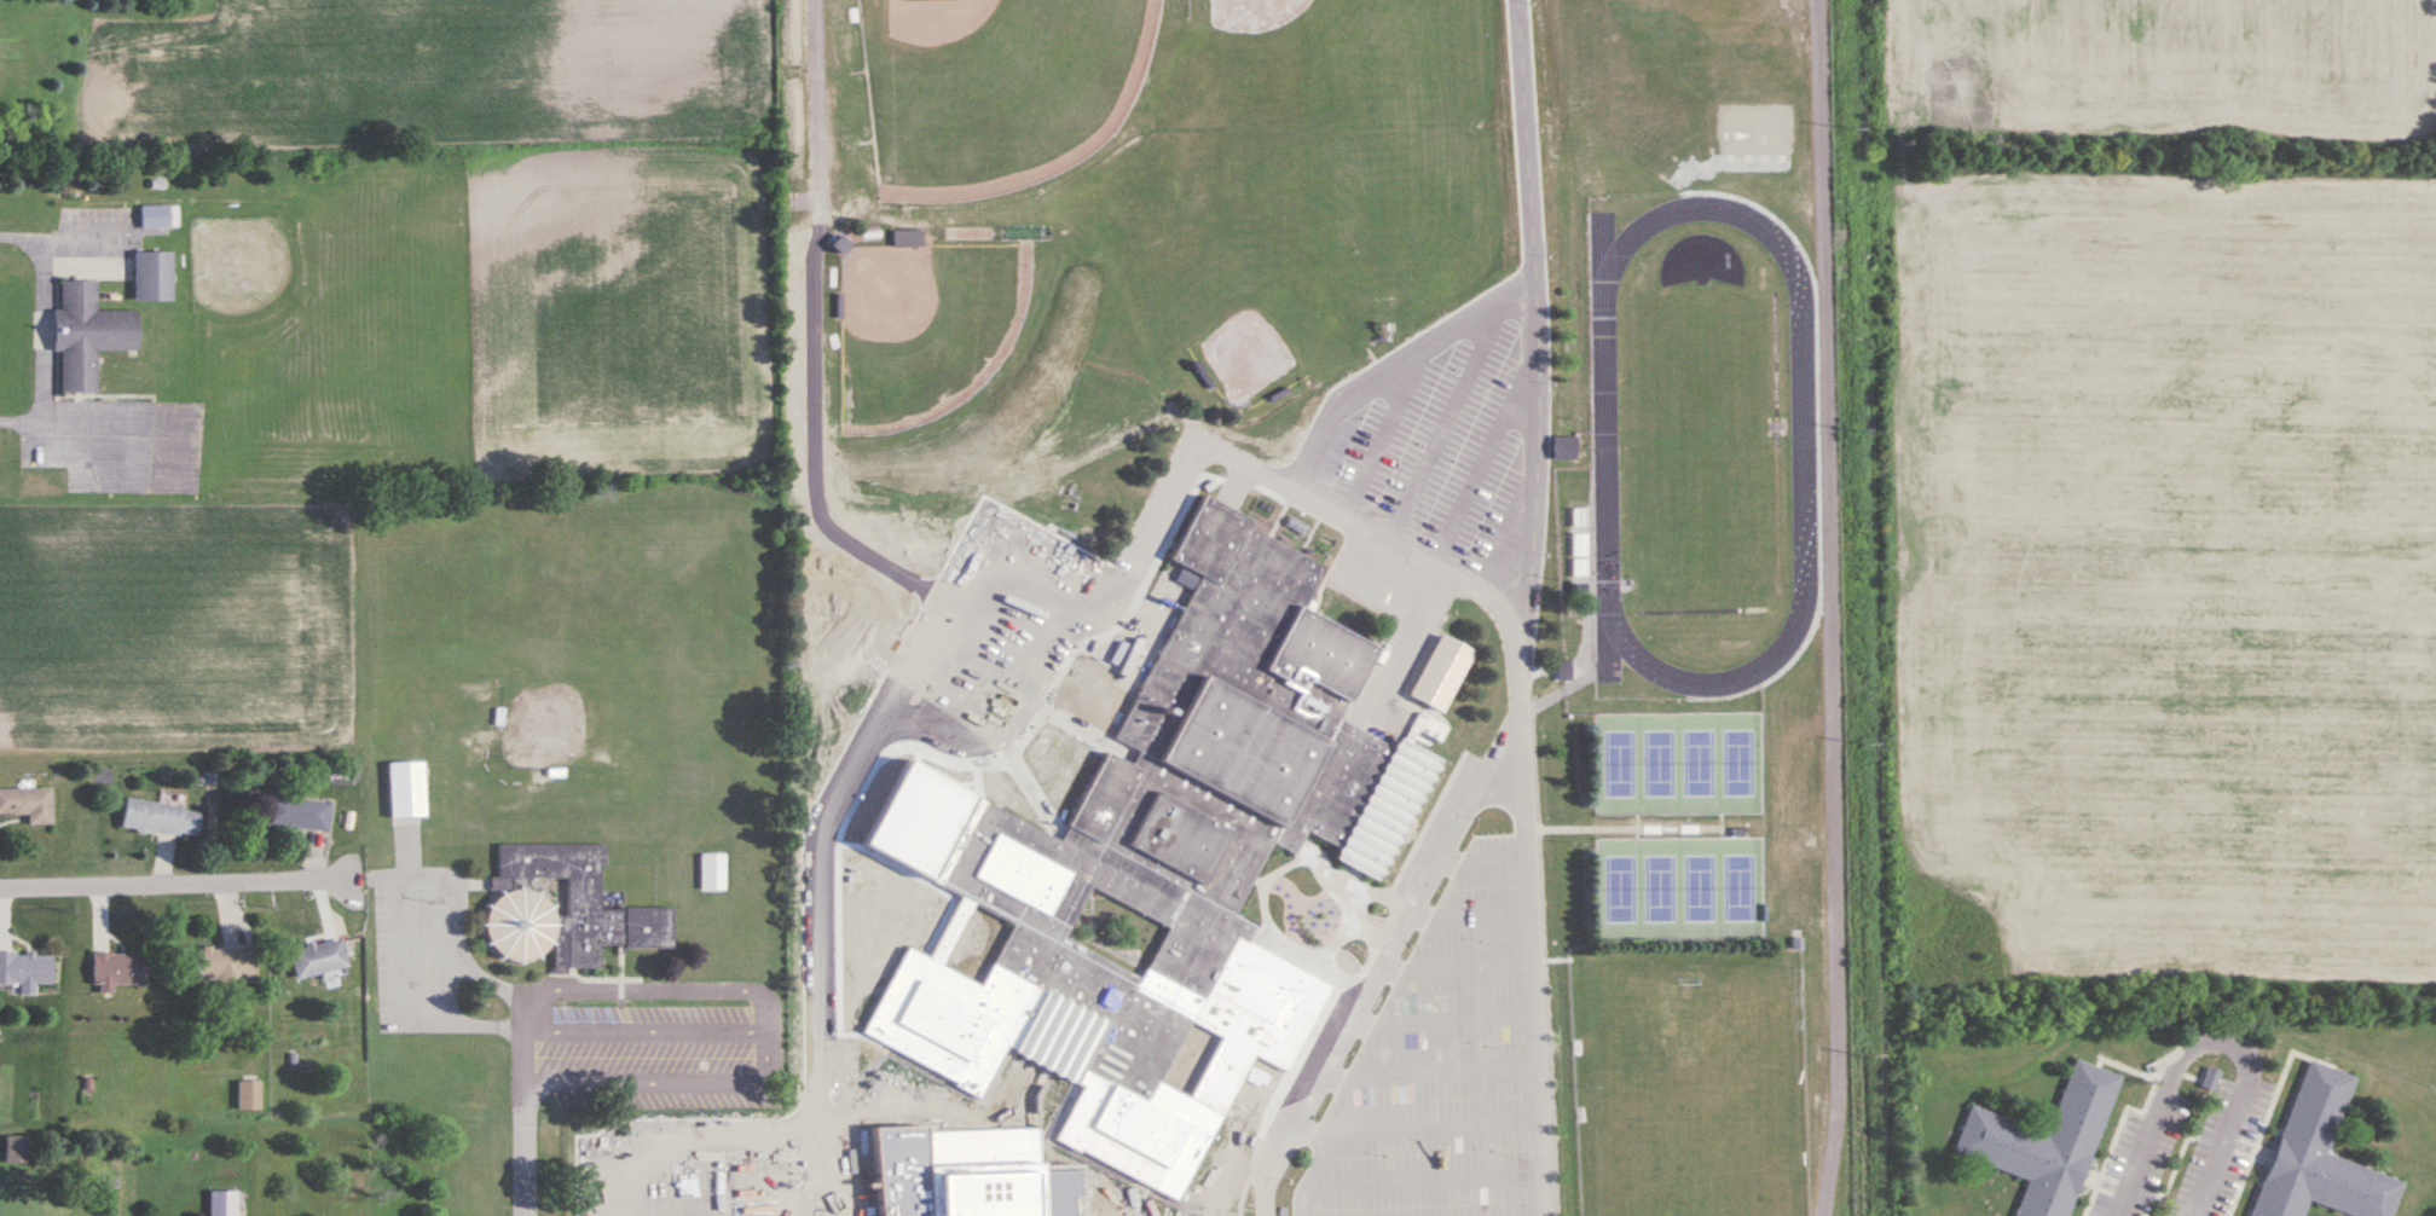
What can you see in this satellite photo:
road: (808, 87)
park: (996, 87)
building: (160, 216)
building: (154, 277)
park: (925, 326)
road: (44, 332)
building: (88, 335)
building: (1777, 428)
building: (1566, 448)
building: (1580, 519)
building: (1580, 555)
road: (1824, 608)
road: (1511, 625)
park: (1699, 763)
park: (1740, 763)
park: (1616, 764)
park: (1659, 764)
building: (406, 791)
building: (28, 805)
building: (299, 815)
building: (161, 818)
building: (1156, 856)
building: (712, 872)
road: (169, 882)
park: (1700, 887)
park: (1742, 887)
park: (1619, 888)
park: (1661, 888)
building: (521, 902)
building: (318, 960)
road: (1376, 961)
building: (221, 966)
building: (25, 968)
building: (118, 971)
road: (765, 998)
road: (2214, 1040)
road: (670, 1077)
building: (248, 1095)
road: (523, 1125)
road: (925, 1130)
building: (2044, 1142)
building: (16, 1148)
building: (2321, 1154)
building: (222, 1203)

